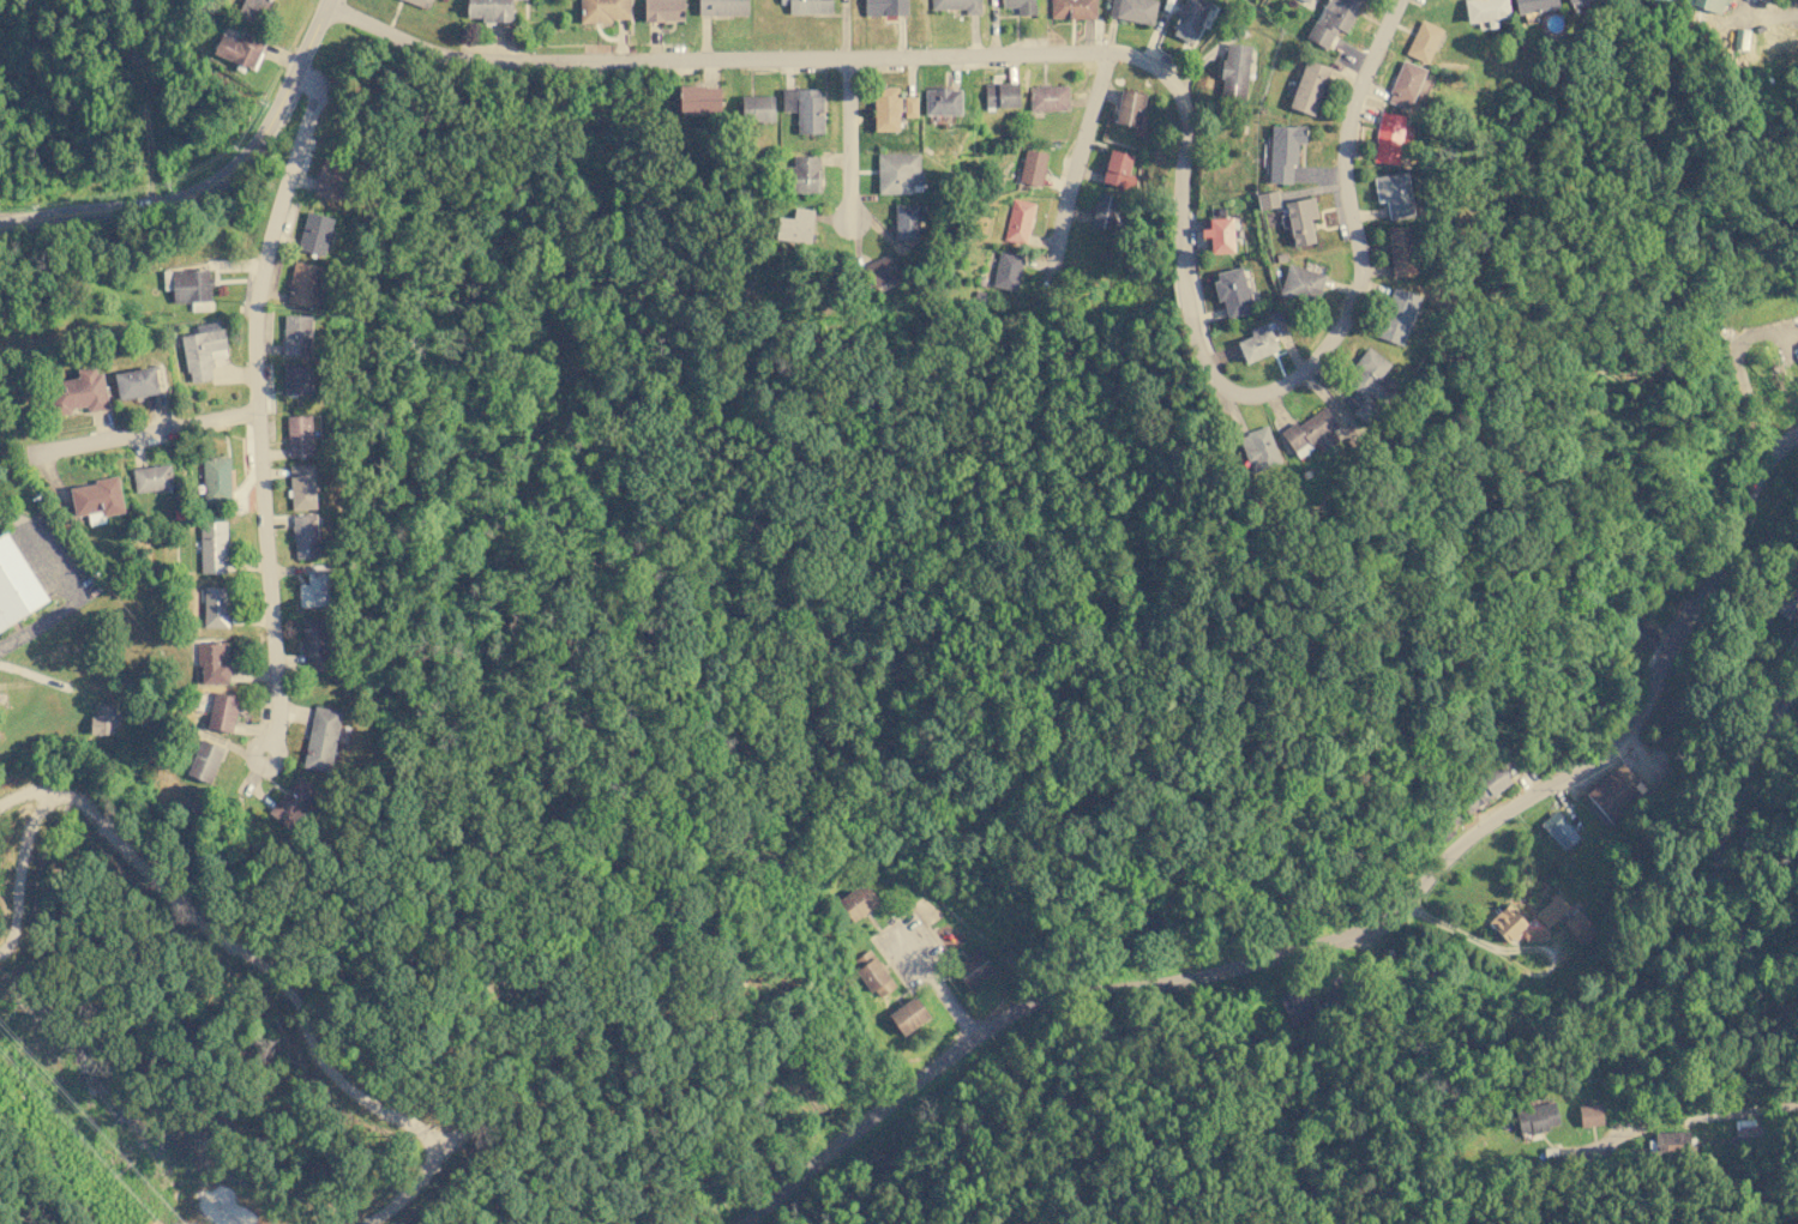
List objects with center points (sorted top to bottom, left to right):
building: (1570, 0)
building: (420, 2)
building: (1307, 2)
building: (1709, 4)
building: (957, 5)
building: (1020, 5)
building: (1533, 5)
building: (722, 6)
building: (807, 6)
building: (252, 7)
building: (884, 7)
building: (1072, 8)
building: (489, 10)
building: (602, 10)
building: (663, 10)
building: (1133, 10)
building: (1485, 11)
building: (1189, 19)
building: (1331, 19)
building: (1740, 37)
building: (1423, 41)
building: (240, 48)
road: (711, 59)
building: (1234, 70)
building: (1405, 84)
building: (1309, 86)
building: (1000, 95)
building: (1047, 97)
building: (698, 98)
building: (942, 101)
building: (910, 105)
building: (1129, 107)
building: (757, 108)
building: (804, 108)
building: (885, 108)
building: (1388, 137)
road: (850, 139)
building: (1283, 150)
building: (1032, 167)
road: (1074, 167)
building: (1116, 167)
building: (897, 171)
building: (802, 174)
road: (212, 181)
building: (330, 181)
building: (1394, 193)
building: (1267, 199)
building: (1104, 211)
building: (1299, 219)
building: (906, 221)
building: (1018, 221)
building: (796, 225)
building: (314, 233)
building: (1219, 234)
building: (1401, 249)
building: (880, 269)
building: (1006, 270)
building: (1301, 283)
building: (305, 284)
building: (192, 288)
building: (1232, 291)
building: (1397, 315)
building: (296, 334)
building: (1257, 342)
building: (1797, 344)
building: (203, 350)
building: (295, 379)
building: (136, 382)
building: (78, 391)
road: (1273, 392)
road: (259, 406)
road: (148, 432)
building: (1311, 432)
building: (299, 434)
building: (1258, 448)
building: (152, 478)
building: (216, 478)
building: (301, 487)
building: (96, 499)
building: (305, 535)
building: (212, 547)
building: (16, 584)
road: (72, 585)
building: (315, 586)
building: (1786, 602)
building: (215, 607)
building: (1644, 635)
building: (317, 644)
building: (214, 662)
building: (222, 712)
building: (103, 719)
building: (320, 737)
building: (205, 760)
building: (1483, 790)
building: (1613, 792)
building: (293, 801)
building: (1559, 831)
building: (858, 902)
building: (1551, 910)
building: (1507, 922)
building: (1581, 928)
building: (1533, 934)
road: (1358, 935)
building: (973, 969)
building: (873, 973)
building: (1295, 1006)
building: (908, 1015)
building: (1589, 1115)
building: (1537, 1117)
building: (1746, 1128)
building: (1671, 1142)

